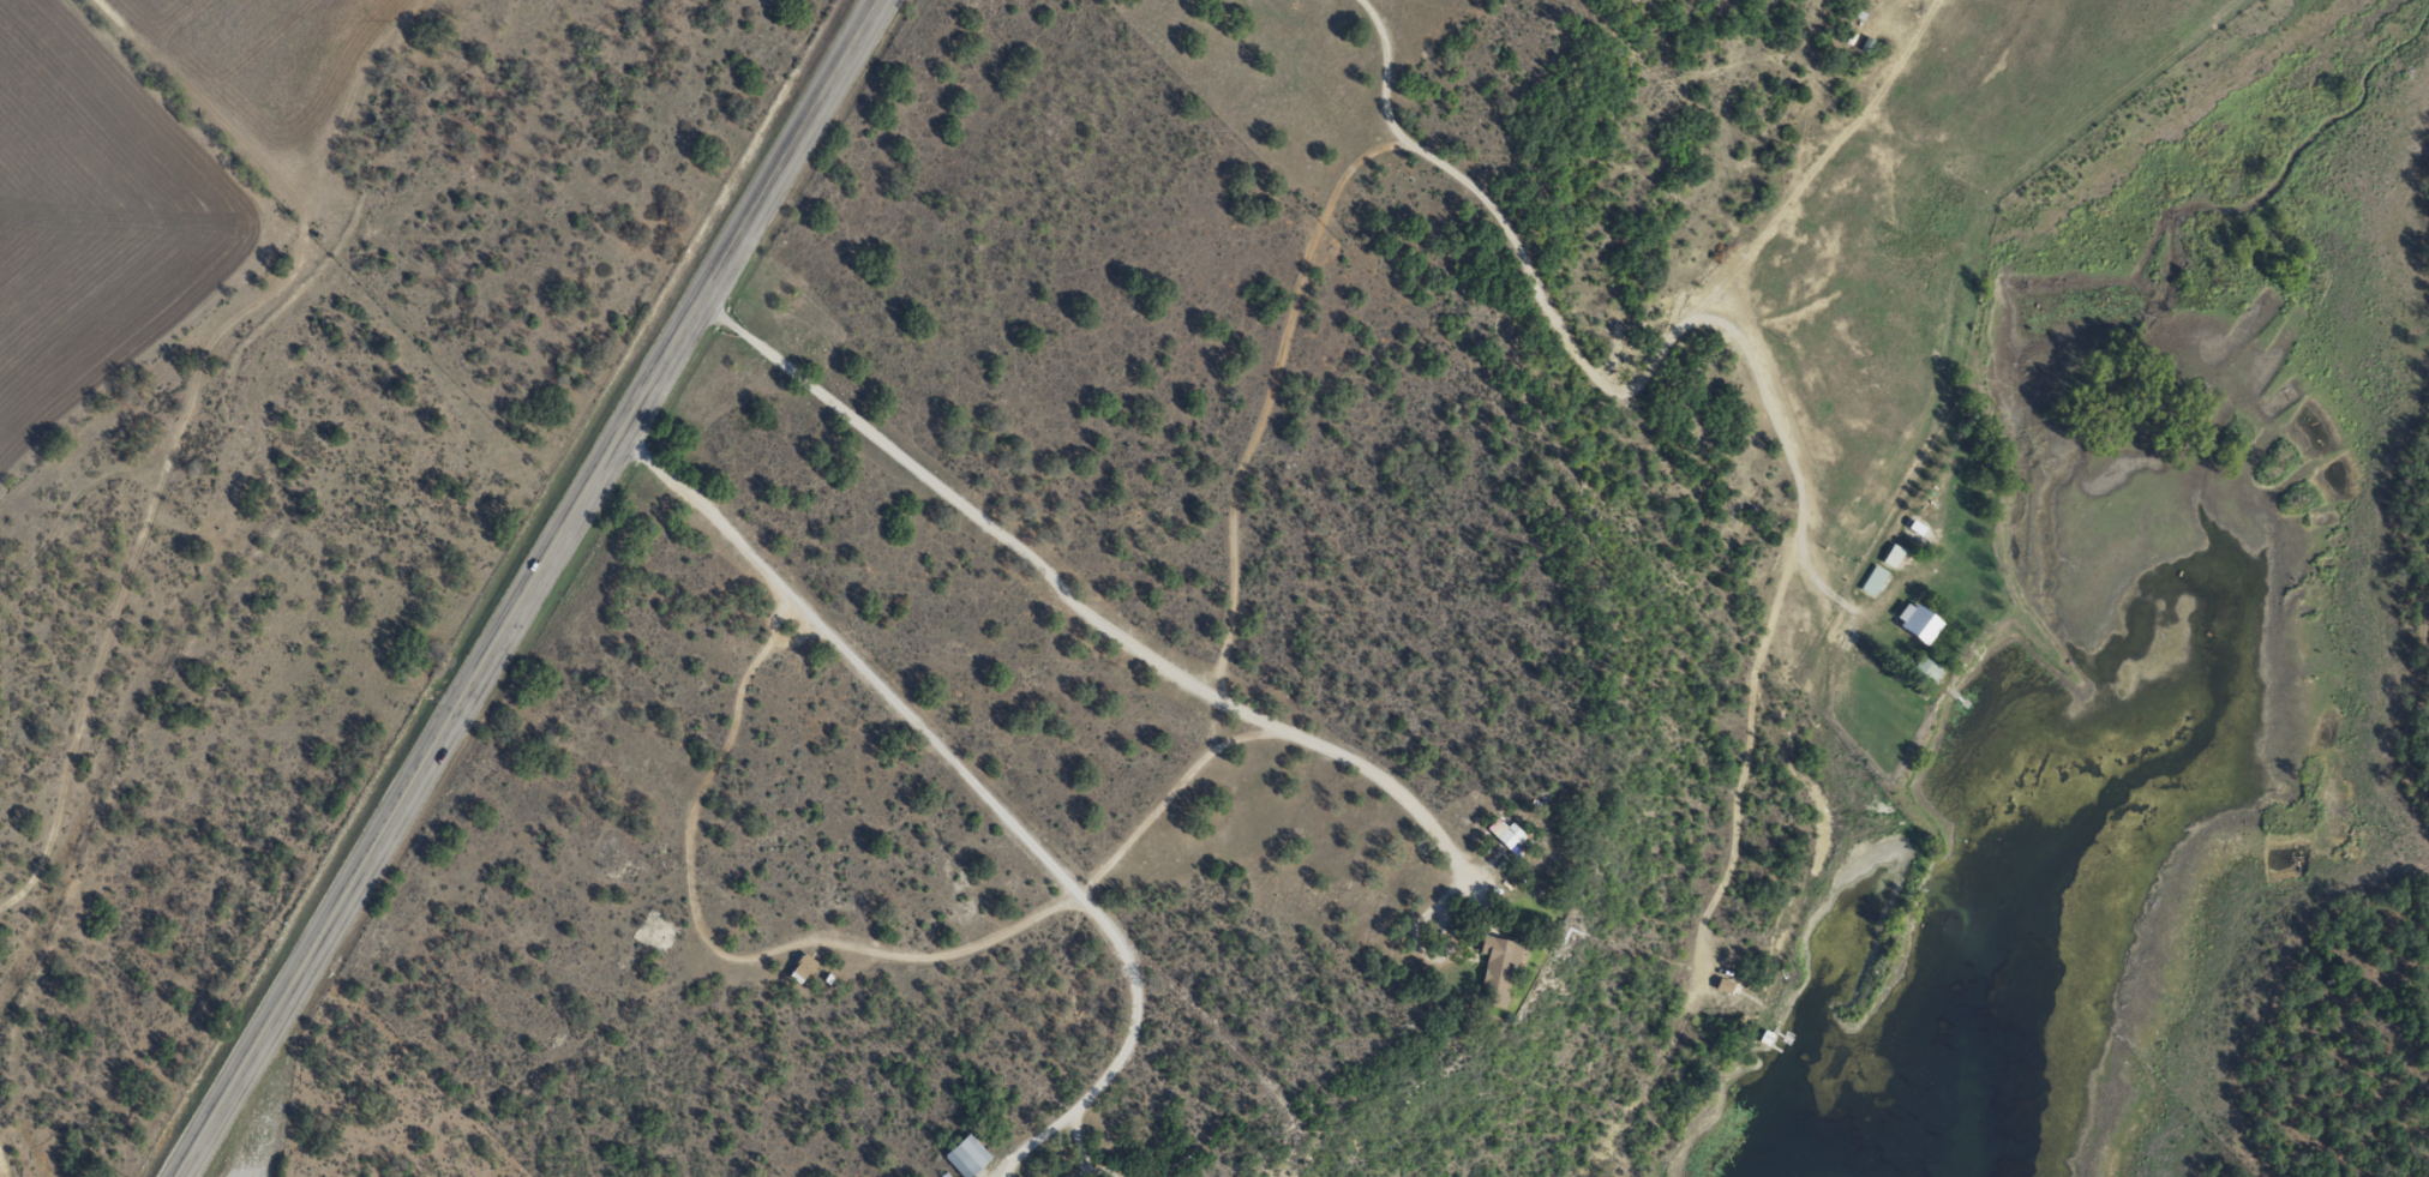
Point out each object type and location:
crop: (269, 71)
crop: (95, 220)
road: (1619, 395)
building: (1891, 556)
building: (1871, 580)
road: (536, 588)
building: (1920, 623)
building: (1927, 668)
road: (1735, 735)
building: (1510, 834)
building: (1500, 966)
building: (800, 968)
building: (1726, 985)
building: (966, 1157)

